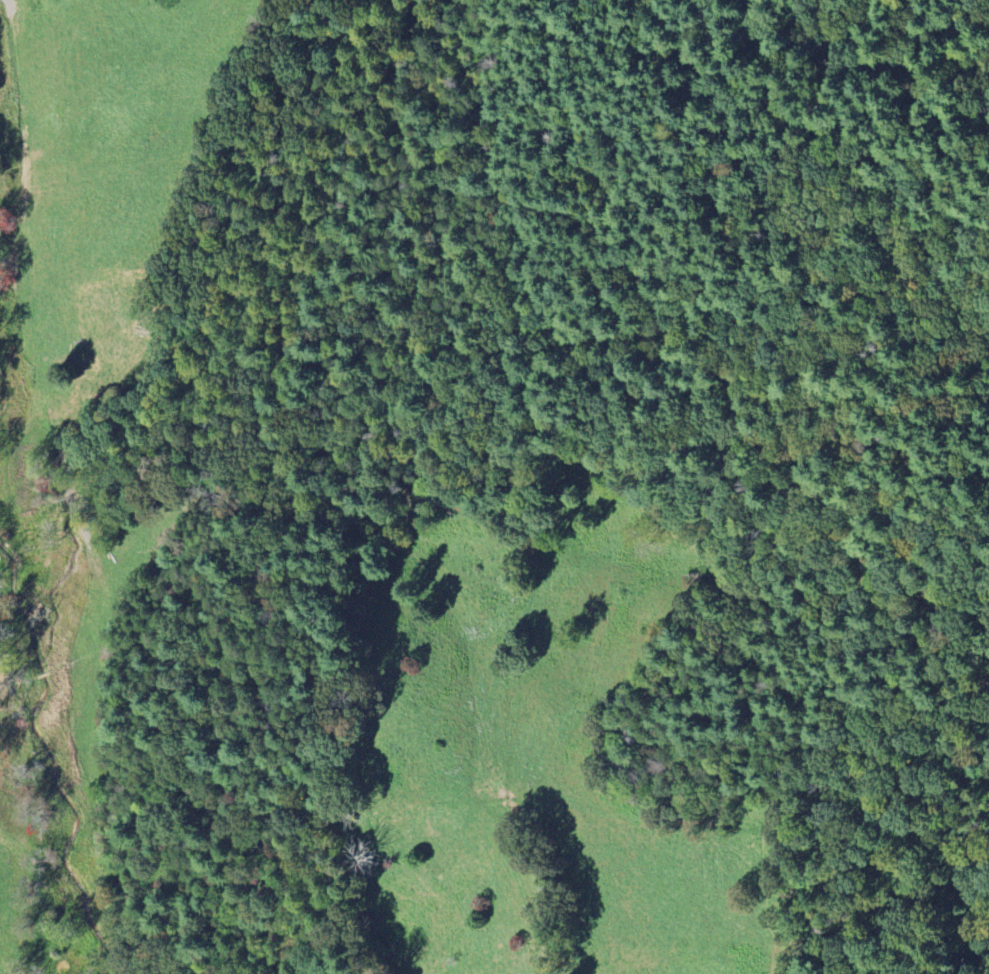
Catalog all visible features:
crop: (554, 749)

